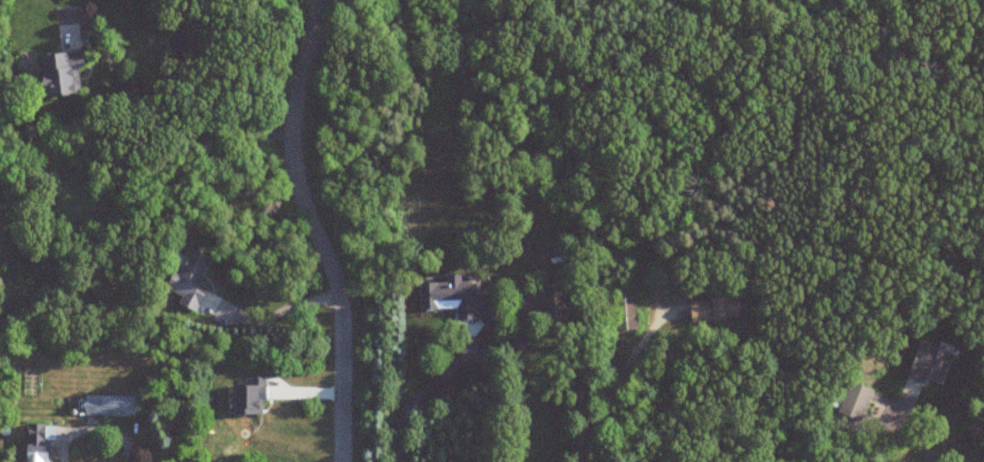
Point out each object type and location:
building: (61, 74)
road: (157, 119)
road: (315, 230)
building: (189, 279)
building: (456, 297)
building: (553, 303)
road: (276, 306)
building: (713, 309)
building: (624, 313)
building: (930, 365)
road: (615, 383)
road: (422, 392)
building: (854, 402)
building: (108, 406)
road: (94, 430)
road: (915, 436)
building: (36, 443)

